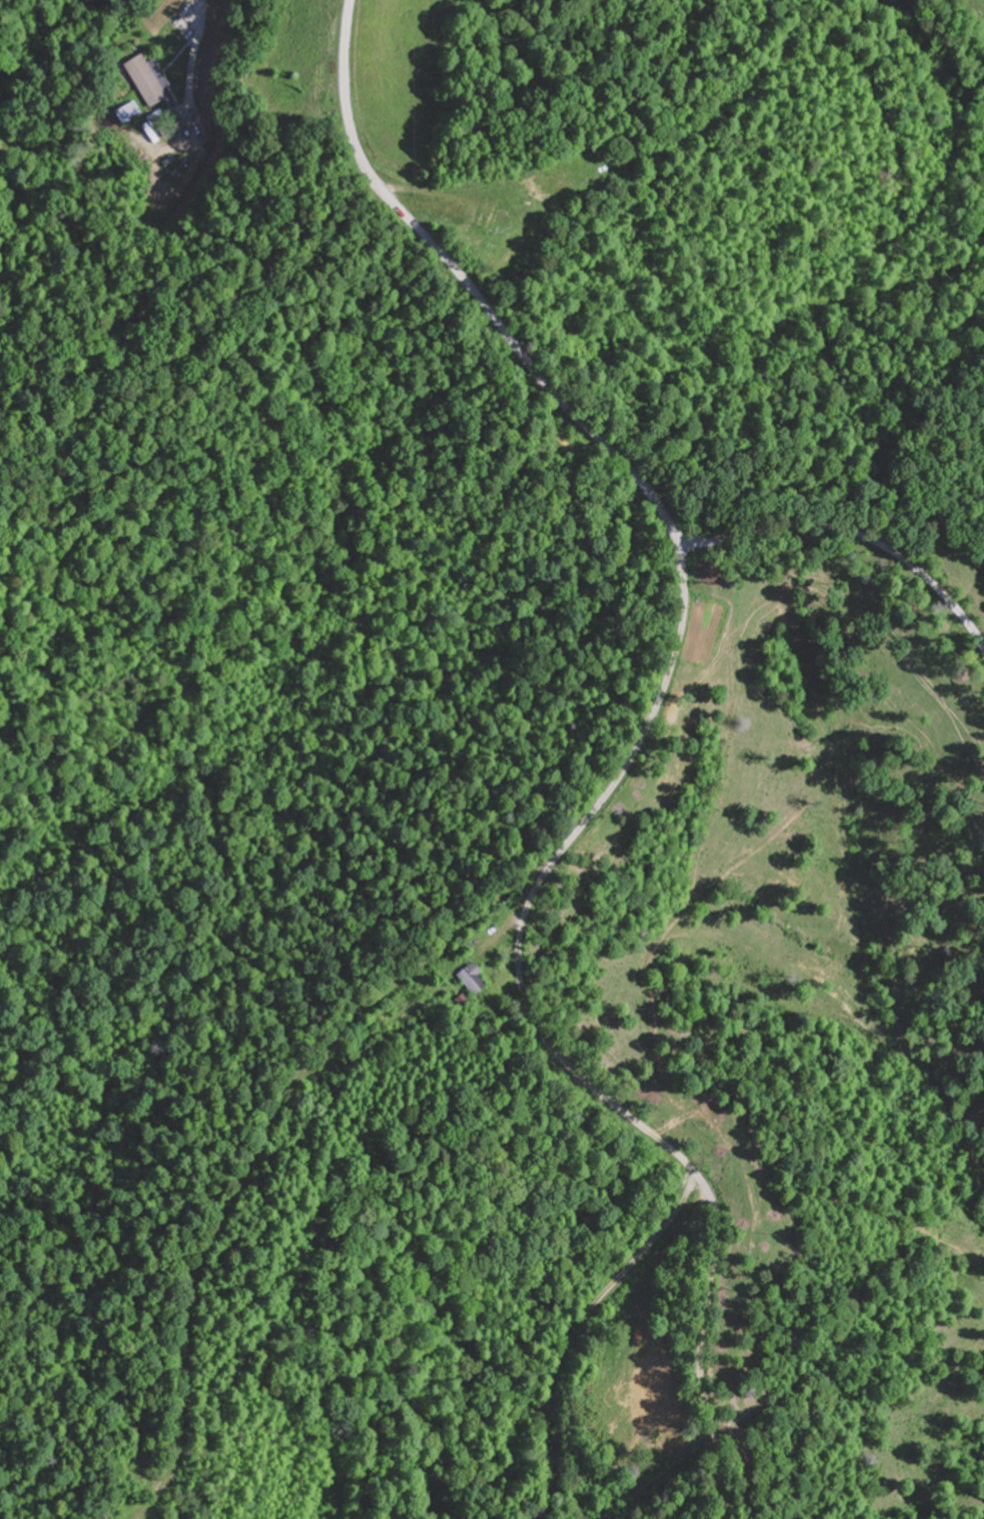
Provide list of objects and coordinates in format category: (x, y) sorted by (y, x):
building: (145, 80)
building: (127, 115)
road: (851, 535)
road: (616, 783)
building: (467, 979)
building: (377, 1017)
road: (679, 1157)
road: (579, 1334)

